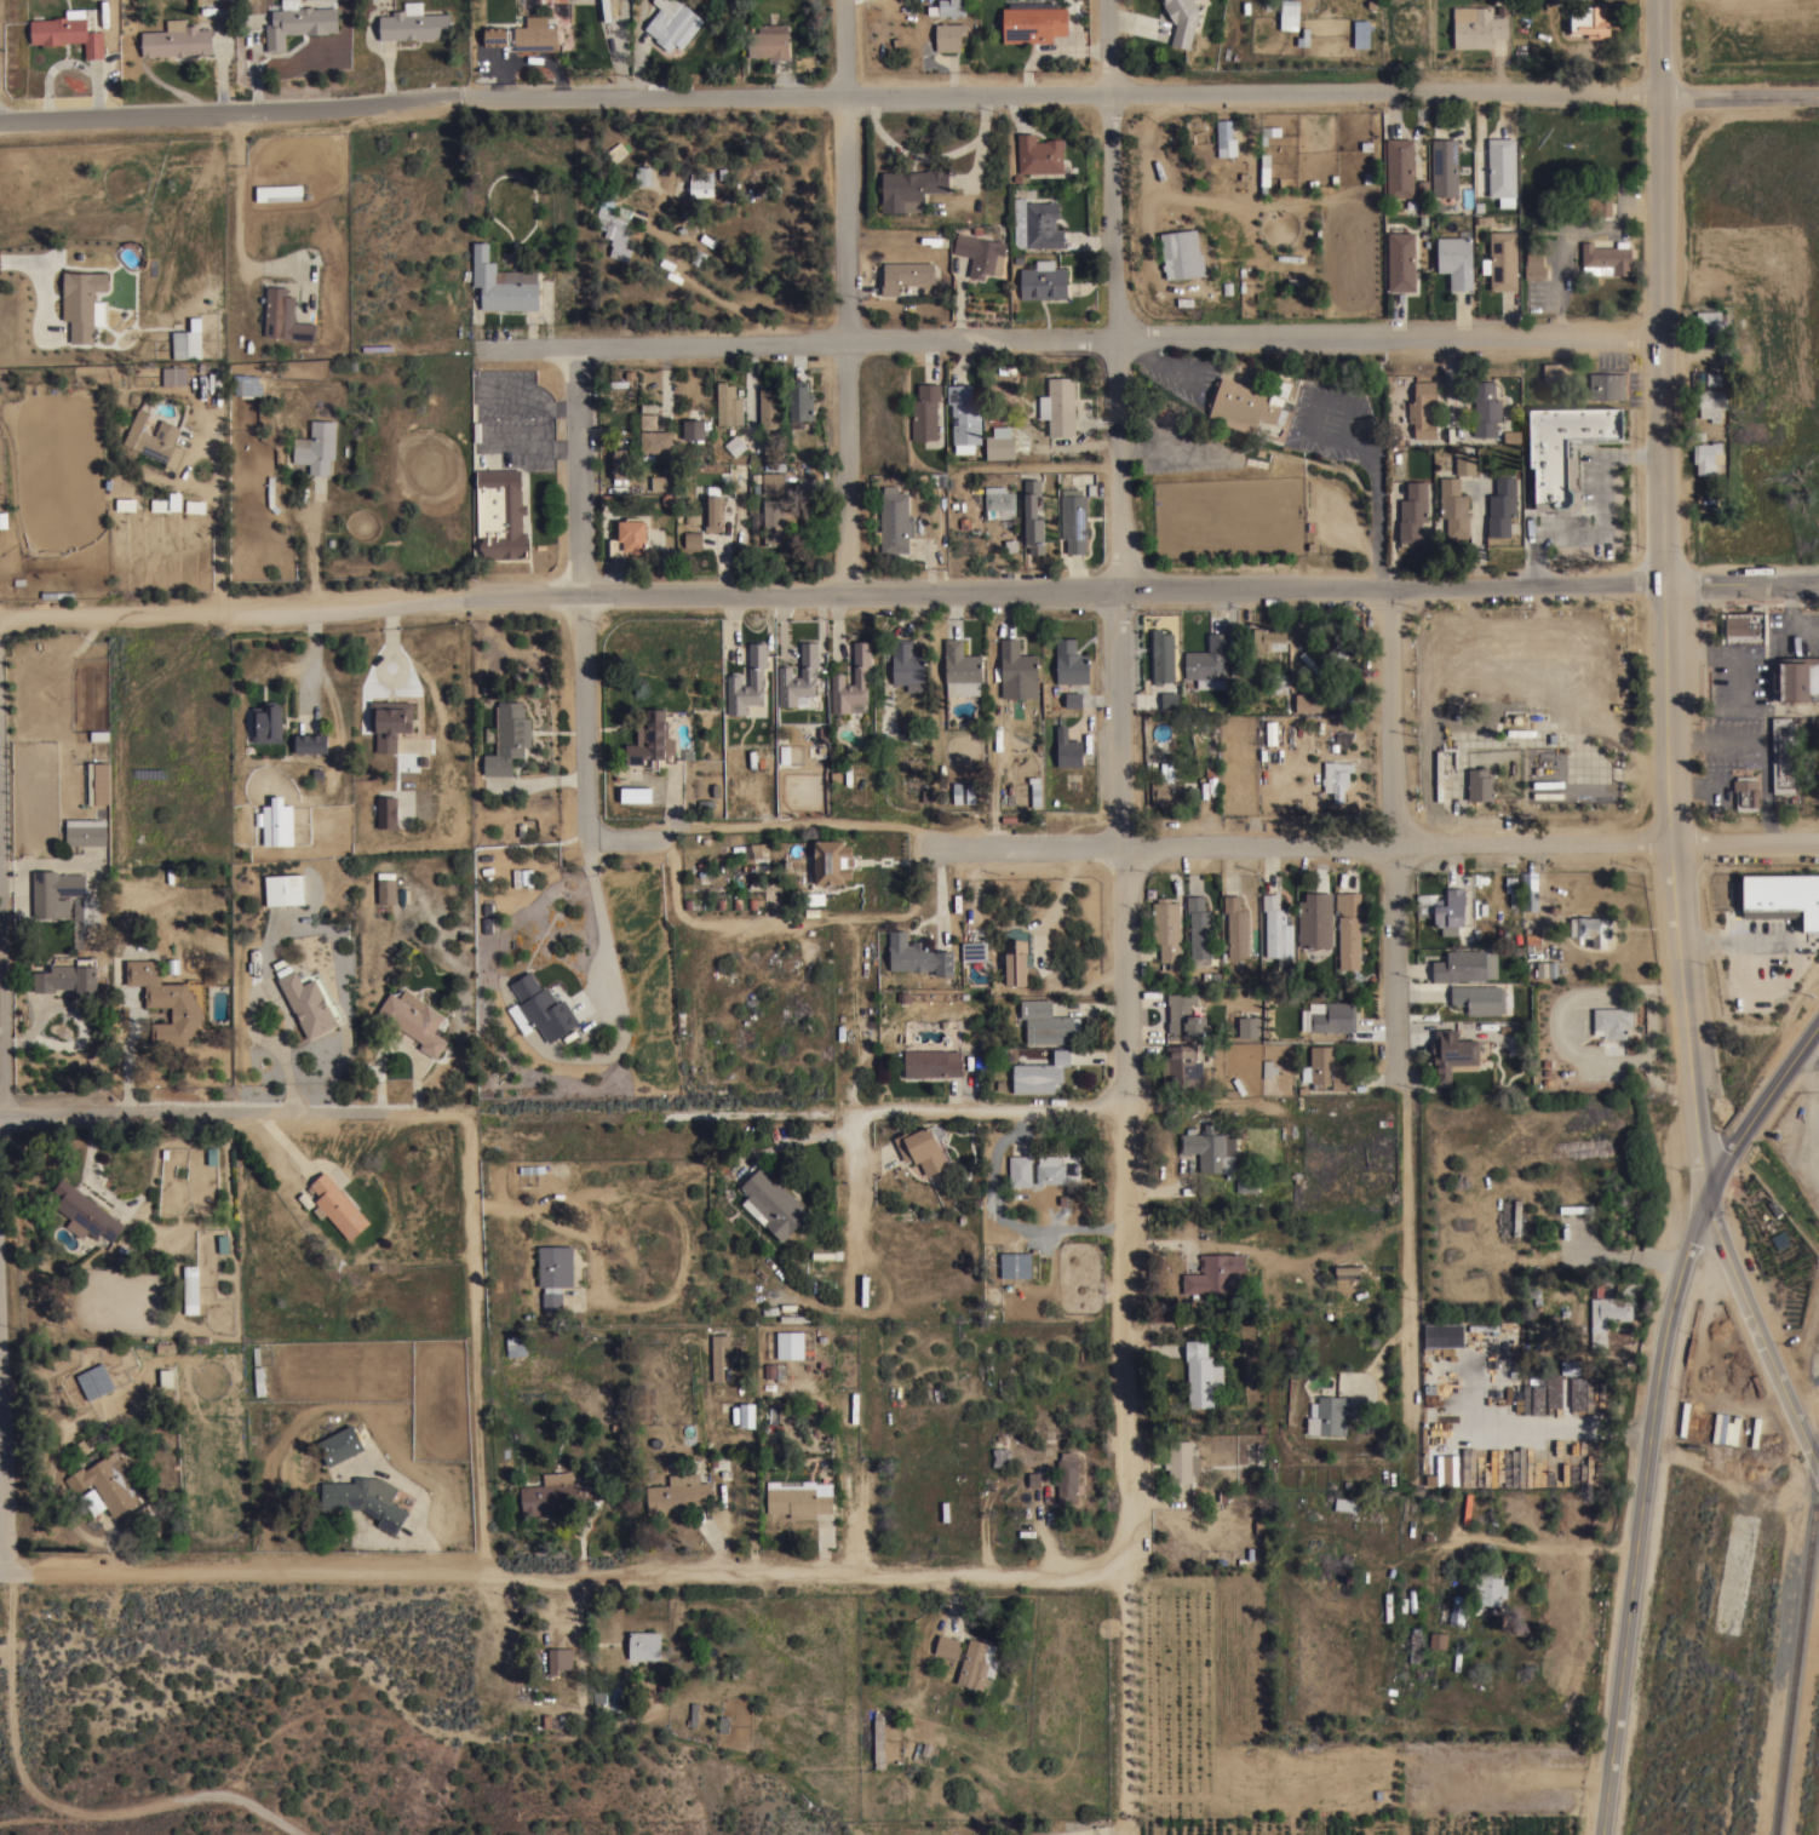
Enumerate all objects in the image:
building: (1516, 6)
building: (947, 7)
building: (1289, 15)
building: (1182, 19)
building: (1588, 21)
building: (299, 23)
building: (671, 23)
building: (1033, 23)
building: (414, 25)
building: (1477, 27)
building: (67, 31)
building: (535, 34)
building: (1362, 34)
building: (948, 35)
building: (495, 36)
building: (177, 39)
building: (768, 41)
road: (1738, 97)
road: (827, 98)
building: (1224, 141)
building: (616, 151)
building: (1039, 154)
building: (1500, 166)
building: (1399, 167)
building: (1444, 167)
building: (1264, 171)
building: (642, 174)
building: (1480, 179)
building: (701, 183)
building: (911, 188)
building: (276, 193)
building: (1597, 205)
building: (613, 223)
building: (1035, 224)
building: (980, 253)
building: (1181, 253)
building: (698, 258)
building: (1606, 258)
building: (1456, 259)
building: (1400, 260)
building: (1502, 260)
building: (1534, 264)
building: (905, 274)
building: (1043, 280)
building: (503, 282)
road: (847, 298)
building: (81, 302)
building: (283, 315)
building: (1709, 320)
road: (1072, 338)
building: (187, 344)
building: (377, 348)
building: (1251, 371)
building: (1555, 371)
building: (174, 374)
building: (1708, 378)
building: (246, 384)
building: (1606, 385)
building: (1279, 386)
road: (533, 391)
building: (801, 400)
building: (1710, 402)
building: (728, 405)
building: (1243, 405)
building: (1058, 406)
road: (562, 407)
building: (768, 407)
building: (1485, 408)
building: (924, 412)
building: (1417, 414)
building: (964, 418)
building: (648, 420)
building: (693, 430)
building: (154, 438)
building: (1065, 438)
building: (655, 441)
building: (999, 442)
building: (734, 445)
building: (316, 446)
road: (529, 447)
building: (773, 448)
building: (1563, 452)
building: (1705, 457)
building: (618, 463)
building: (1464, 464)
building: (939, 477)
building: (114, 482)
building: (658, 482)
building: (773, 483)
building: (270, 489)
building: (998, 501)
building: (126, 503)
building: (167, 503)
building: (195, 505)
building: (1502, 506)
building: (1453, 508)
building: (1412, 510)
building: (500, 512)
building: (713, 512)
building: (693, 516)
building: (1032, 516)
road: (1600, 517)
building: (2, 518)
building: (775, 521)
building: (1073, 521)
building: (894, 522)
road: (220, 534)
building: (629, 537)
road: (1119, 538)
building: (693, 539)
road: (314, 557)
road: (1740, 581)
road: (831, 597)
road: (1663, 600)
road: (1784, 620)
building: (1338, 624)
building: (1744, 626)
building: (1315, 630)
building: (1268, 638)
building: (1338, 650)
building: (1161, 656)
building: (1207, 659)
building: (1071, 663)
building: (1016, 664)
building: (906, 665)
building: (960, 669)
road: (584, 670)
building: (756, 676)
building: (860, 676)
building: (798, 677)
building: (1797, 677)
building: (1278, 683)
building: (1073, 699)
building: (1169, 699)
building: (1310, 701)
building: (1534, 701)
building: (266, 722)
building: (389, 722)
building: (1456, 726)
building: (1270, 732)
building: (1540, 736)
building: (509, 738)
building: (650, 739)
building: (1341, 739)
building: (311, 742)
building: (1067, 747)
building: (785, 753)
building: (1784, 755)
building: (1210, 768)
building: (1336, 778)
building: (104, 782)
building: (1480, 784)
building: (62, 786)
building: (1166, 786)
building: (1745, 792)
building: (636, 793)
building: (954, 793)
building: (968, 793)
building: (386, 812)
building: (277, 821)
road: (802, 824)
building: (86, 831)
road: (1378, 848)
building: (753, 850)
building: (832, 861)
building: (522, 877)
building: (285, 889)
building: (1528, 889)
building: (54, 890)
building: (386, 890)
building: (813, 898)
building: (1781, 898)
building: (1444, 908)
road: (768, 917)
building: (1314, 919)
building: (78, 922)
building: (1198, 925)
building: (1166, 927)
building: (1235, 927)
building: (1276, 927)
building: (1591, 928)
building: (1348, 929)
road: (4, 945)
building: (974, 951)
building: (919, 958)
building: (1015, 962)
building: (1465, 964)
building: (68, 979)
building: (1479, 998)
building: (168, 1000)
building: (308, 1000)
building: (543, 1007)
road: (860, 1014)
building: (1184, 1015)
building: (1329, 1016)
building: (413, 1020)
building: (1612, 1020)
building: (1044, 1022)
building: (1246, 1027)
road: (1398, 1030)
building: (1452, 1053)
building: (931, 1062)
building: (1181, 1066)
building: (1267, 1068)
building: (1326, 1068)
building: (1040, 1073)
road: (234, 1105)
road: (1760, 1106)
road: (991, 1111)
building: (922, 1147)
building: (1211, 1148)
road: (86, 1166)
building: (1049, 1169)
building: (1020, 1170)
building: (1245, 1185)
road: (856, 1186)
building: (773, 1203)
building: (337, 1205)
building: (1574, 1209)
building: (85, 1212)
building: (1516, 1216)
building: (850, 1244)
road: (1625, 1249)
building: (1211, 1261)
building: (1015, 1263)
building: (1345, 1272)
building: (555, 1277)
building: (190, 1289)
building: (863, 1289)
building: (1533, 1301)
building: (794, 1317)
building: (1605, 1317)
building: (1484, 1327)
building: (1442, 1336)
road: (1760, 1337)
road: (478, 1340)
building: (790, 1343)
building: (515, 1346)
building: (718, 1364)
building: (1574, 1367)
building: (1200, 1374)
building: (166, 1377)
building: (96, 1381)
building: (259, 1381)
building: (1554, 1394)
building: (1577, 1394)
building: (1538, 1400)
road: (0, 1403)
building: (1331, 1413)
building: (747, 1415)
building: (1722, 1429)
building: (340, 1444)
building: (1430, 1453)
road: (1127, 1455)
building: (1000, 1457)
building: (1181, 1461)
road: (4, 1470)
building: (1272, 1472)
building: (1067, 1475)
building: (108, 1481)
building: (551, 1492)
building: (676, 1492)
building: (798, 1497)
building: (365, 1498)
building: (92, 1502)
building: (1348, 1503)
road: (1636, 1514)
road: (563, 1572)
building: (1488, 1587)
building: (1387, 1606)
building: (1456, 1610)
building: (1438, 1639)
building: (1415, 1644)
building: (644, 1645)
building: (947, 1646)
building: (558, 1658)
railway: (1800, 1662)
building: (976, 1663)
building: (601, 1696)
building: (692, 1714)
building: (878, 1739)
road: (61, 1807)

